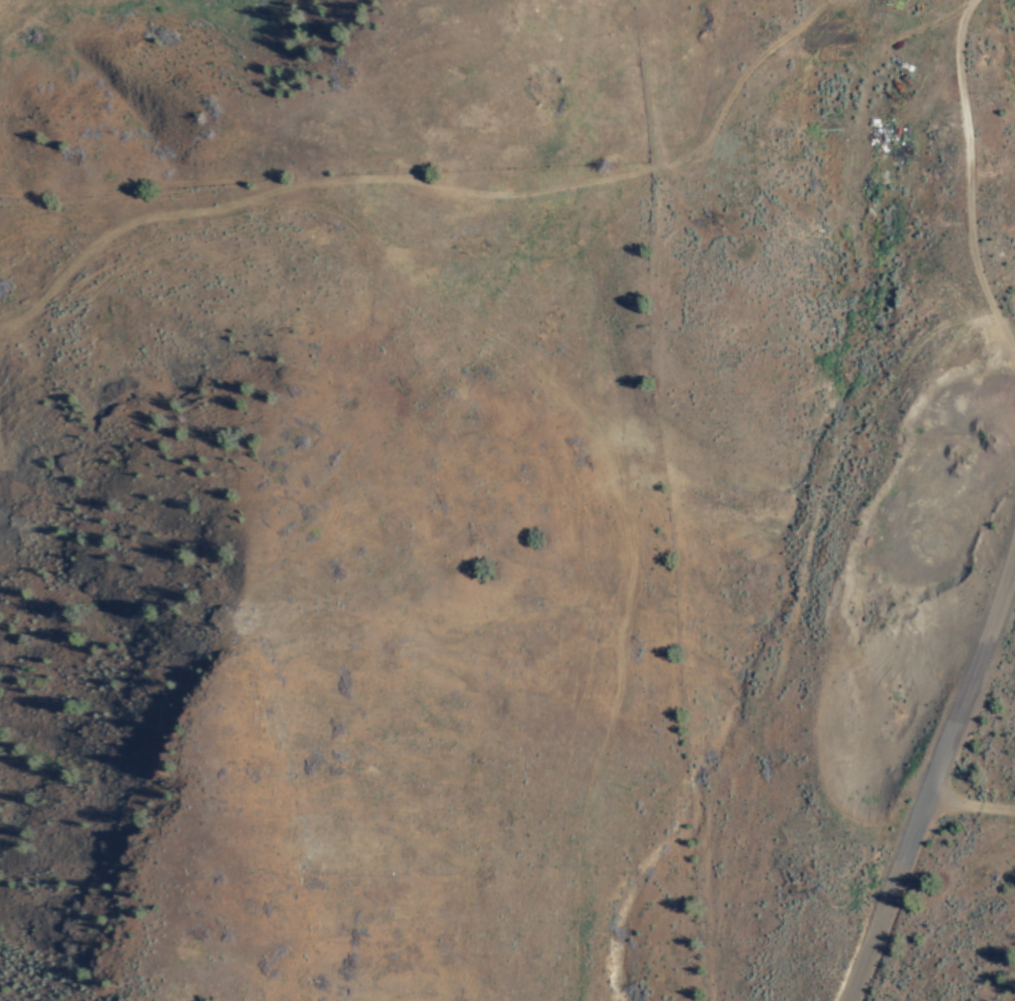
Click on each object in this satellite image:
road: (922, 756)

